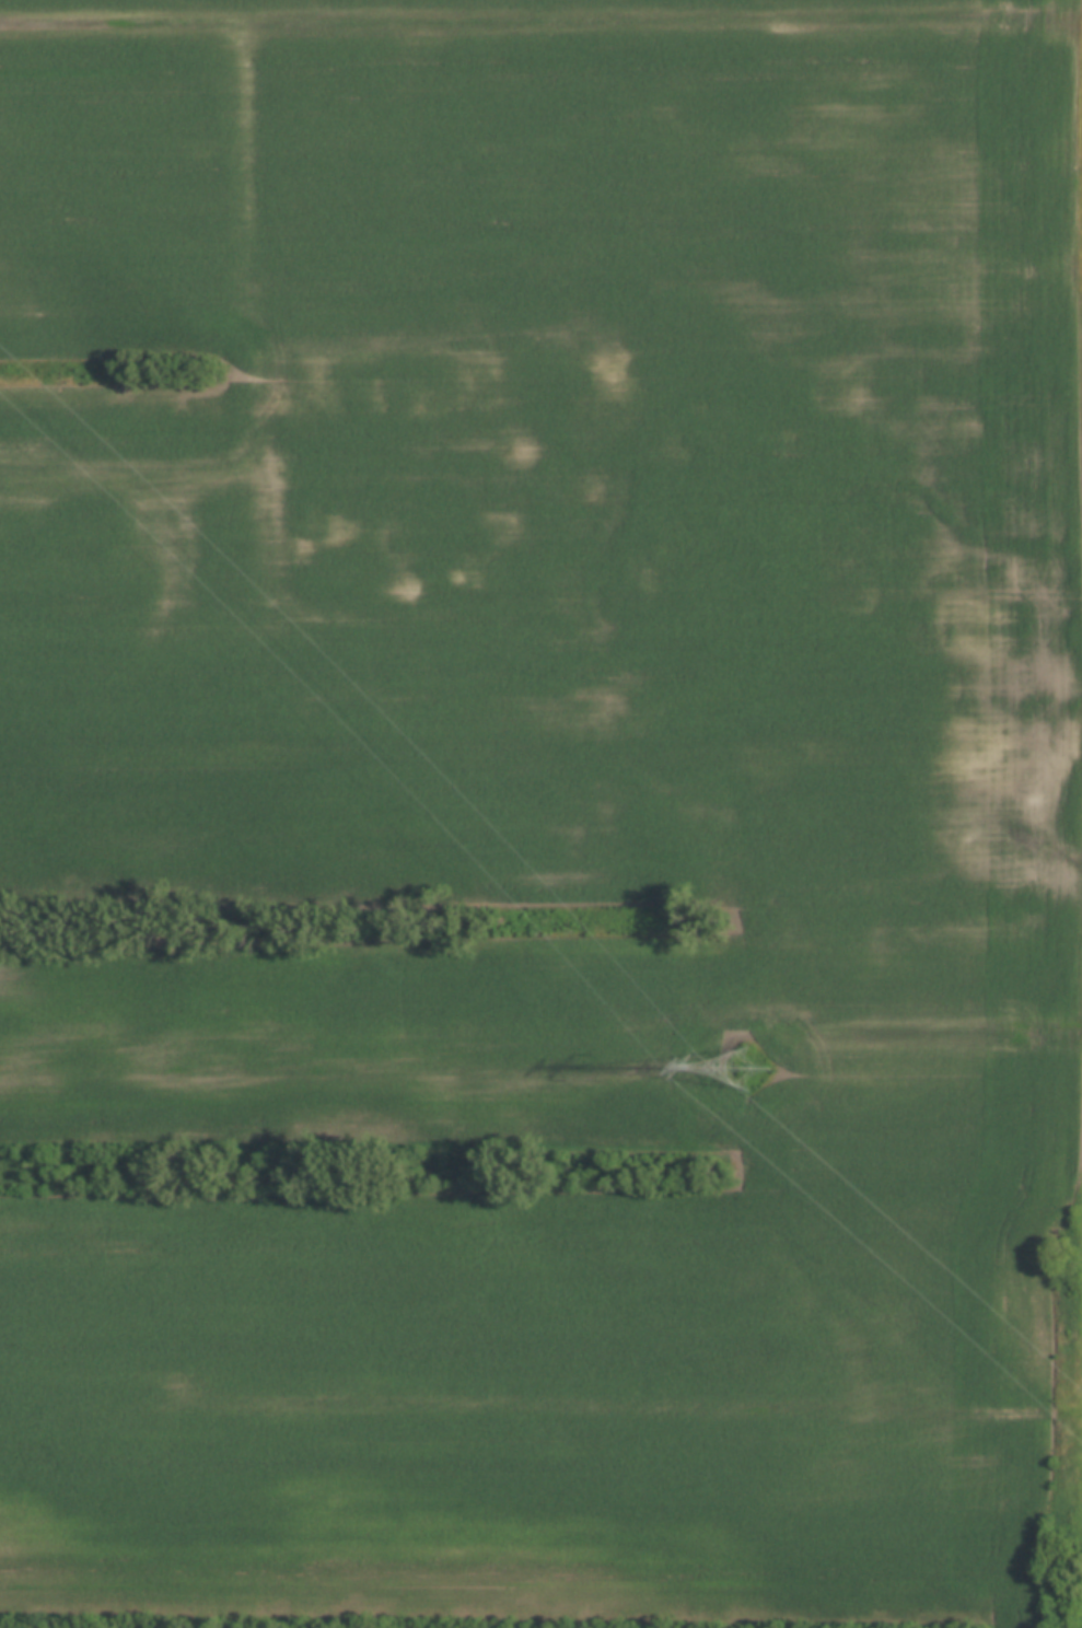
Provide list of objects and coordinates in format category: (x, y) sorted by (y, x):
power tower: (740, 1079)

